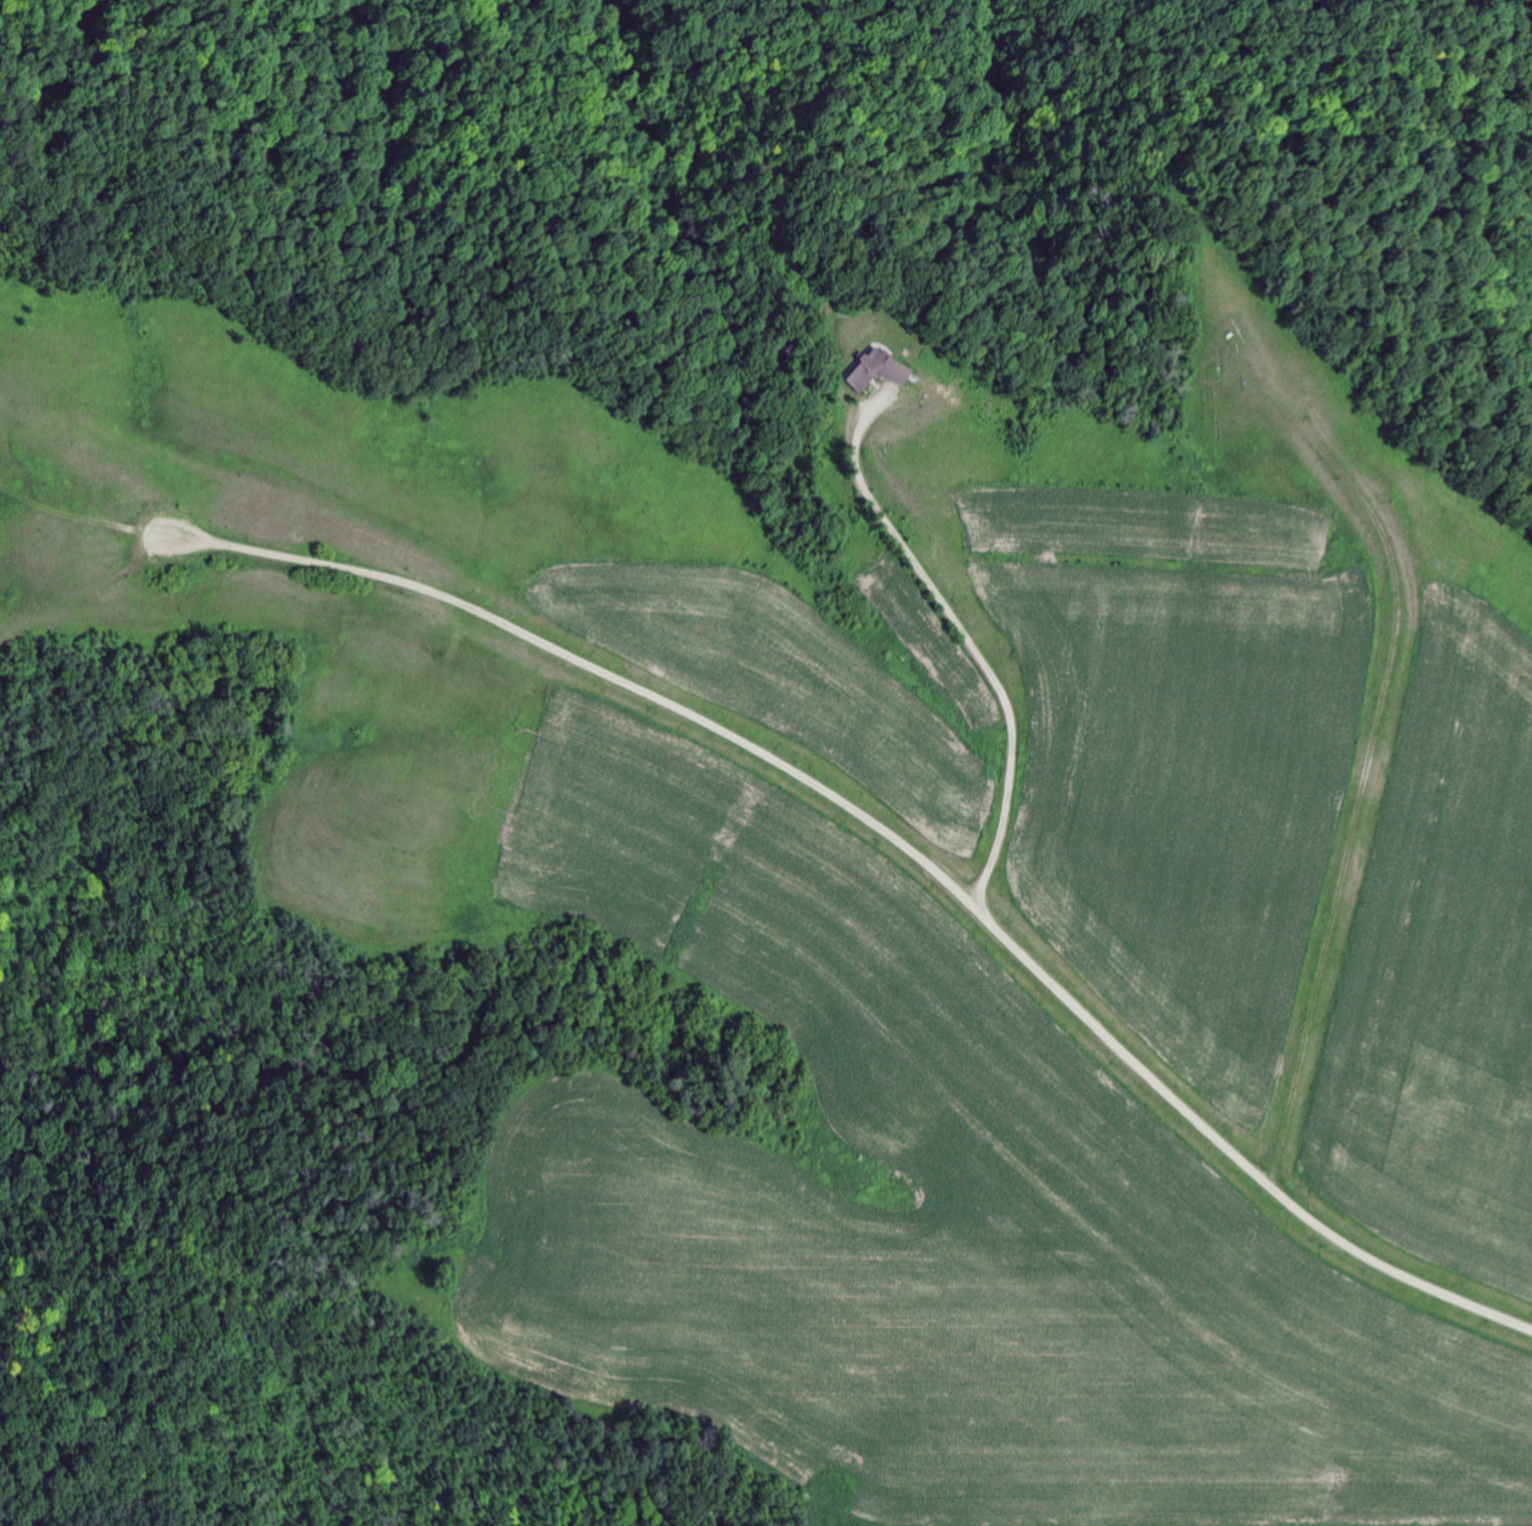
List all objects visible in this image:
building: (870, 370)
road: (905, 849)

